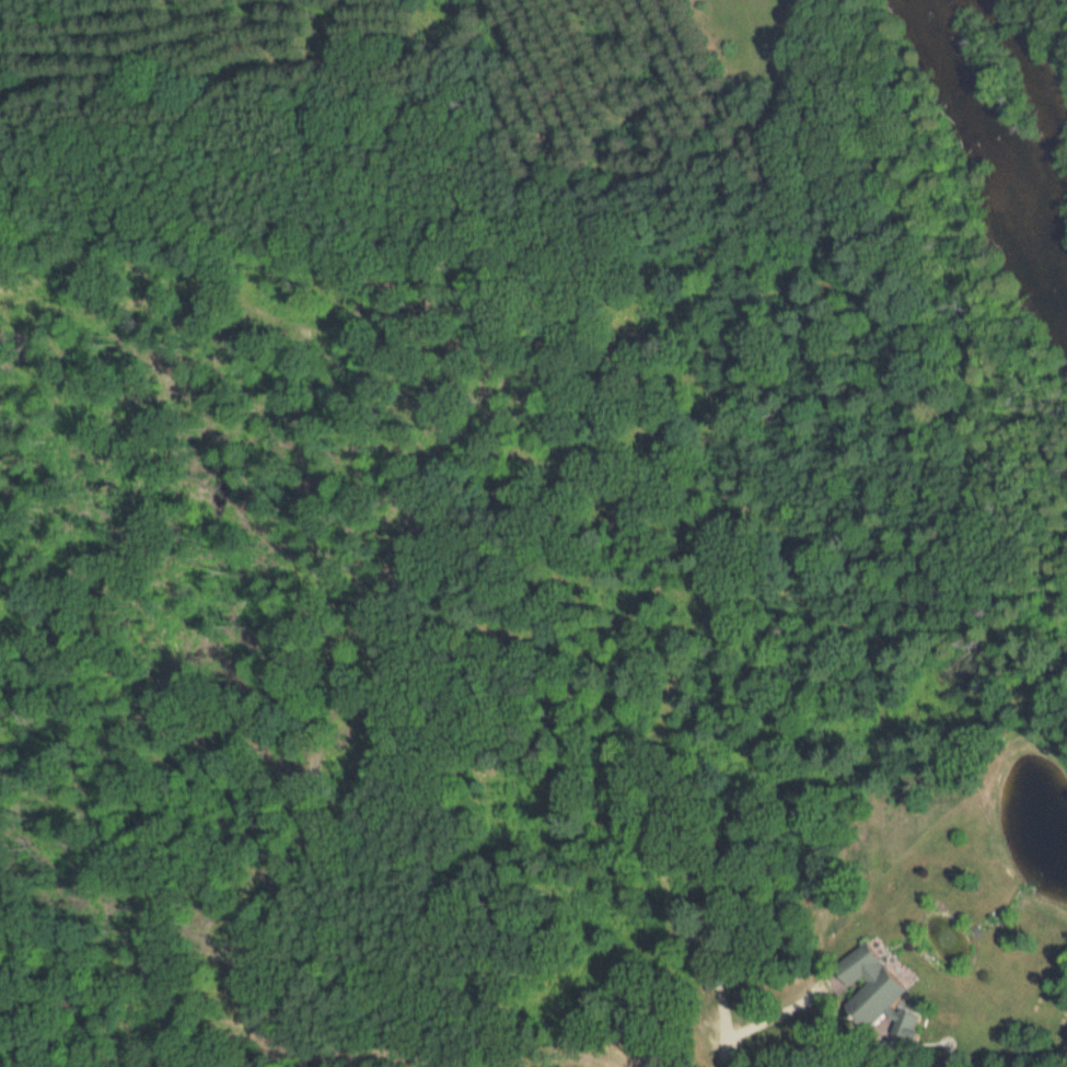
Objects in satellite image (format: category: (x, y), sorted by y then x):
river: (993, 153)
building: (863, 986)
road: (774, 1010)
road: (729, 1024)
building: (903, 1028)
road: (894, 1057)

